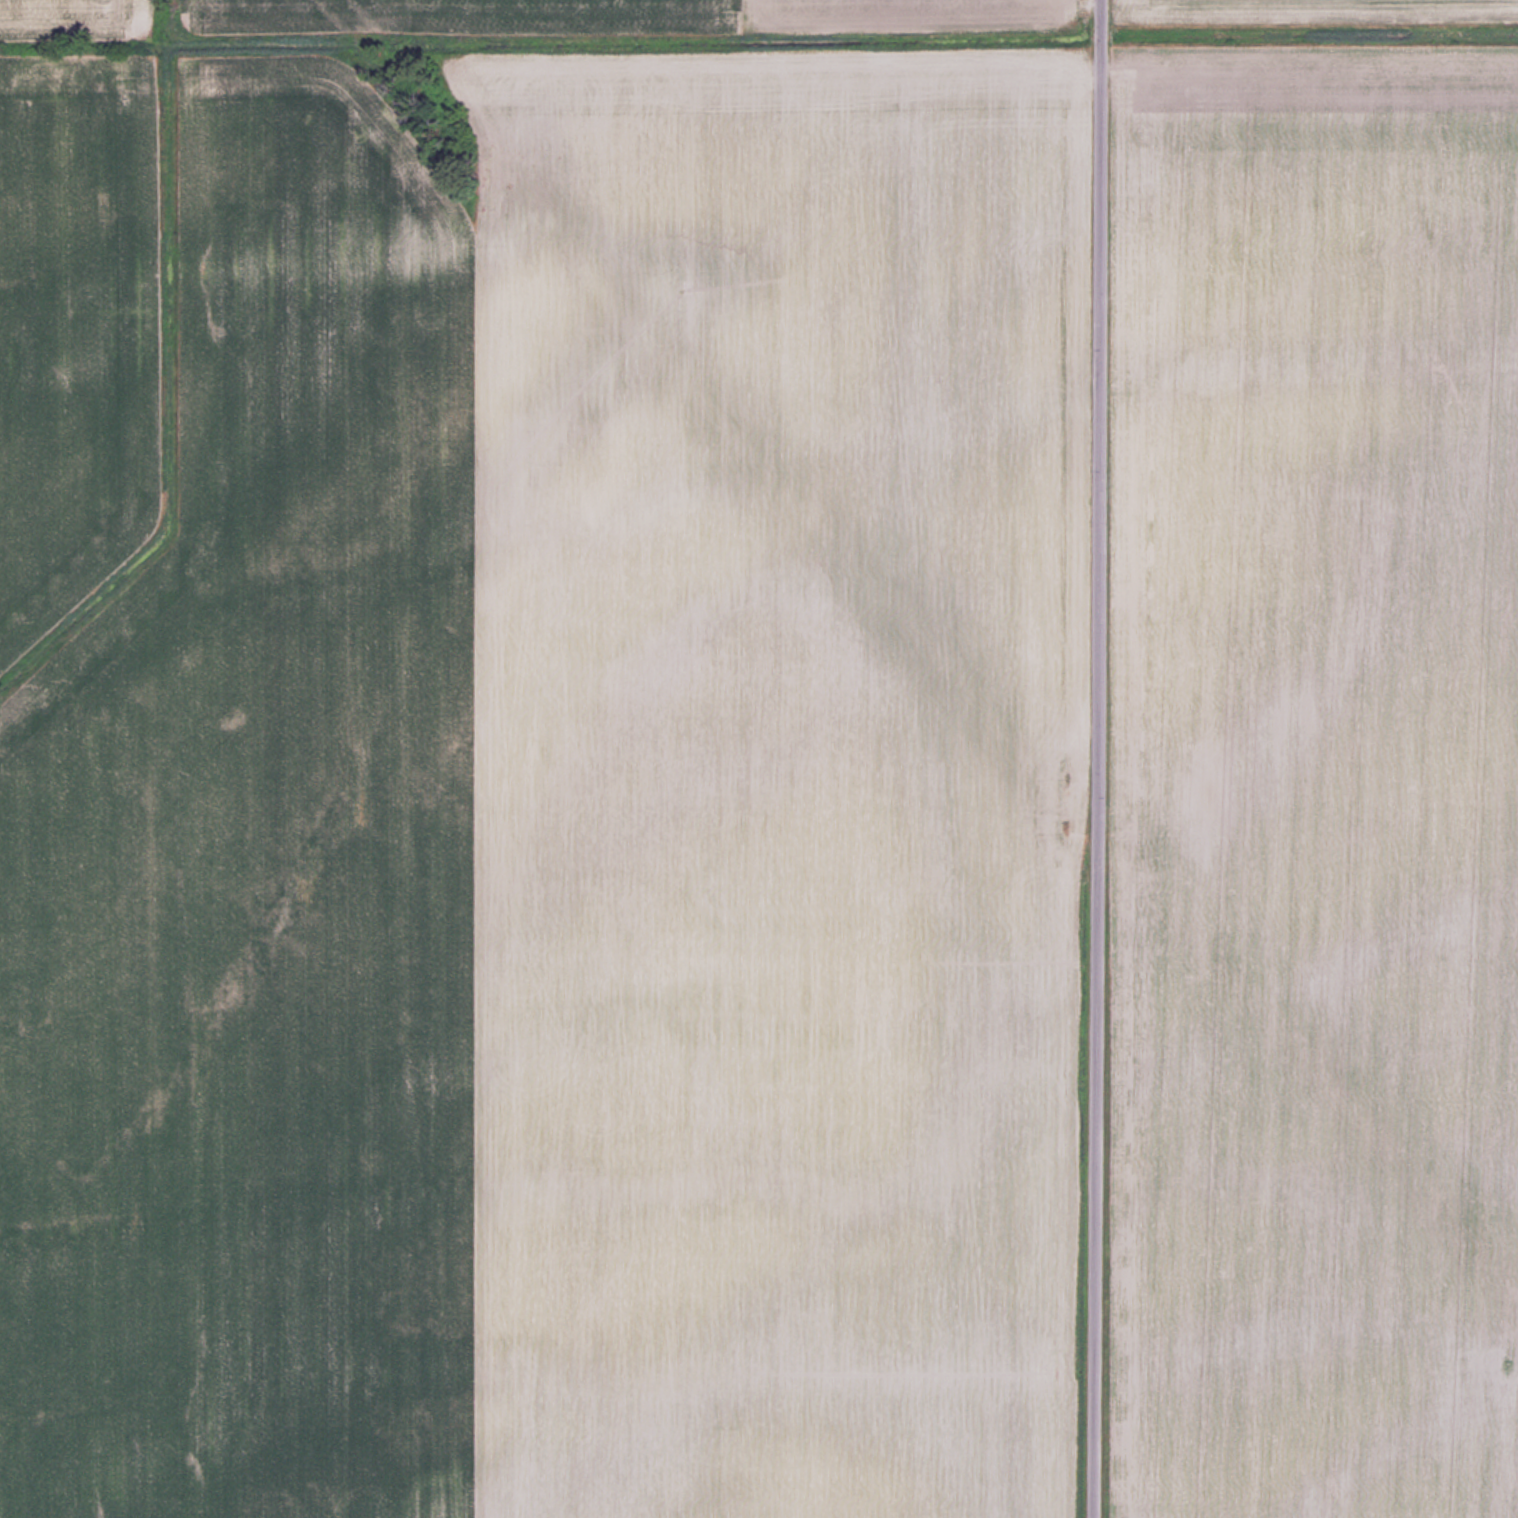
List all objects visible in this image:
road: (1098, 439)
road: (1096, 1198)

